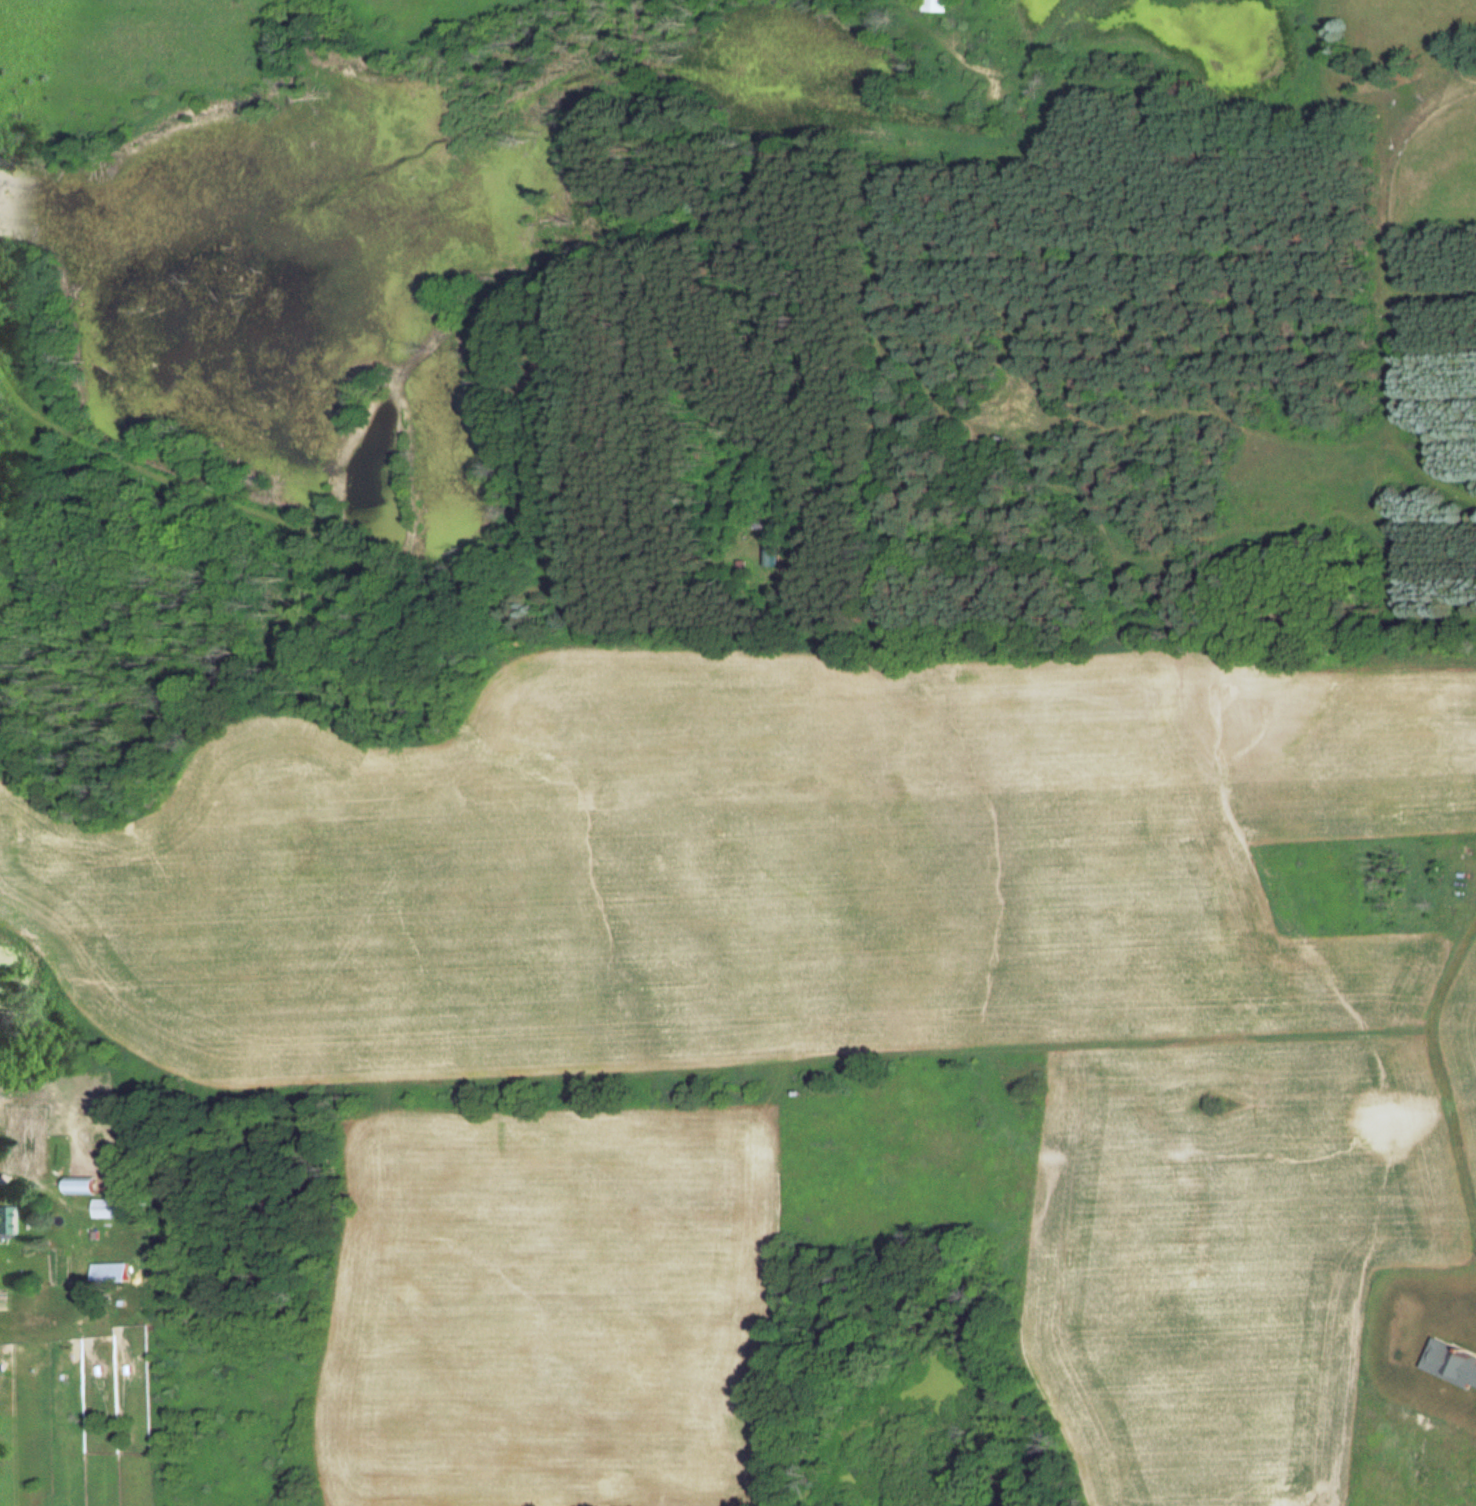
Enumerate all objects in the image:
building: (938, 6)
building: (771, 551)
building: (113, 1208)
building: (6, 1222)
building: (1430, 1356)
building: (1459, 1370)

